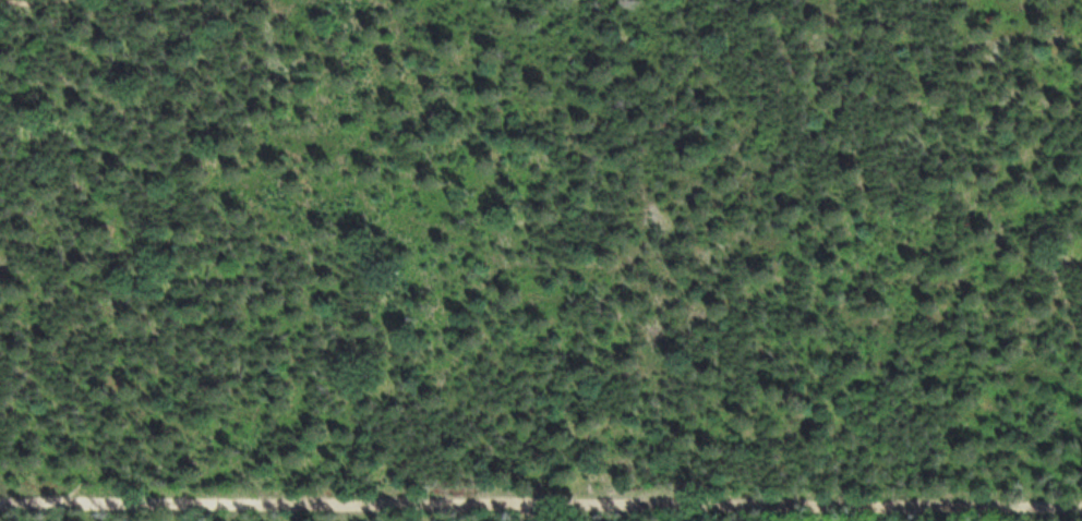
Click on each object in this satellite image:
road: (541, 507)

